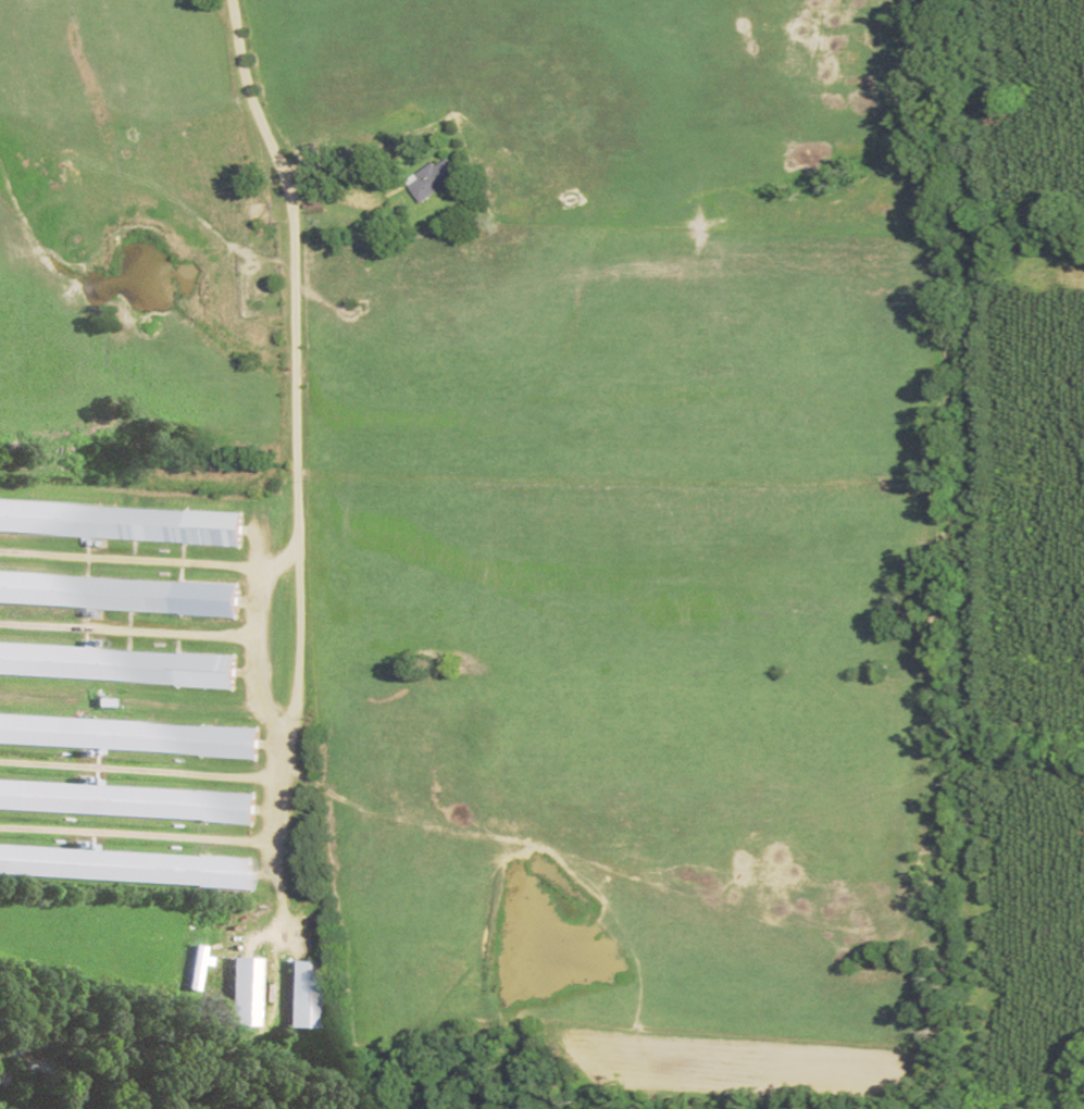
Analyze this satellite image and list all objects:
building: (434, 177)
building: (124, 522)
building: (122, 594)
building: (120, 664)
building: (133, 736)
building: (129, 801)
building: (127, 867)
building: (192, 967)
building: (239, 990)
building: (298, 993)

